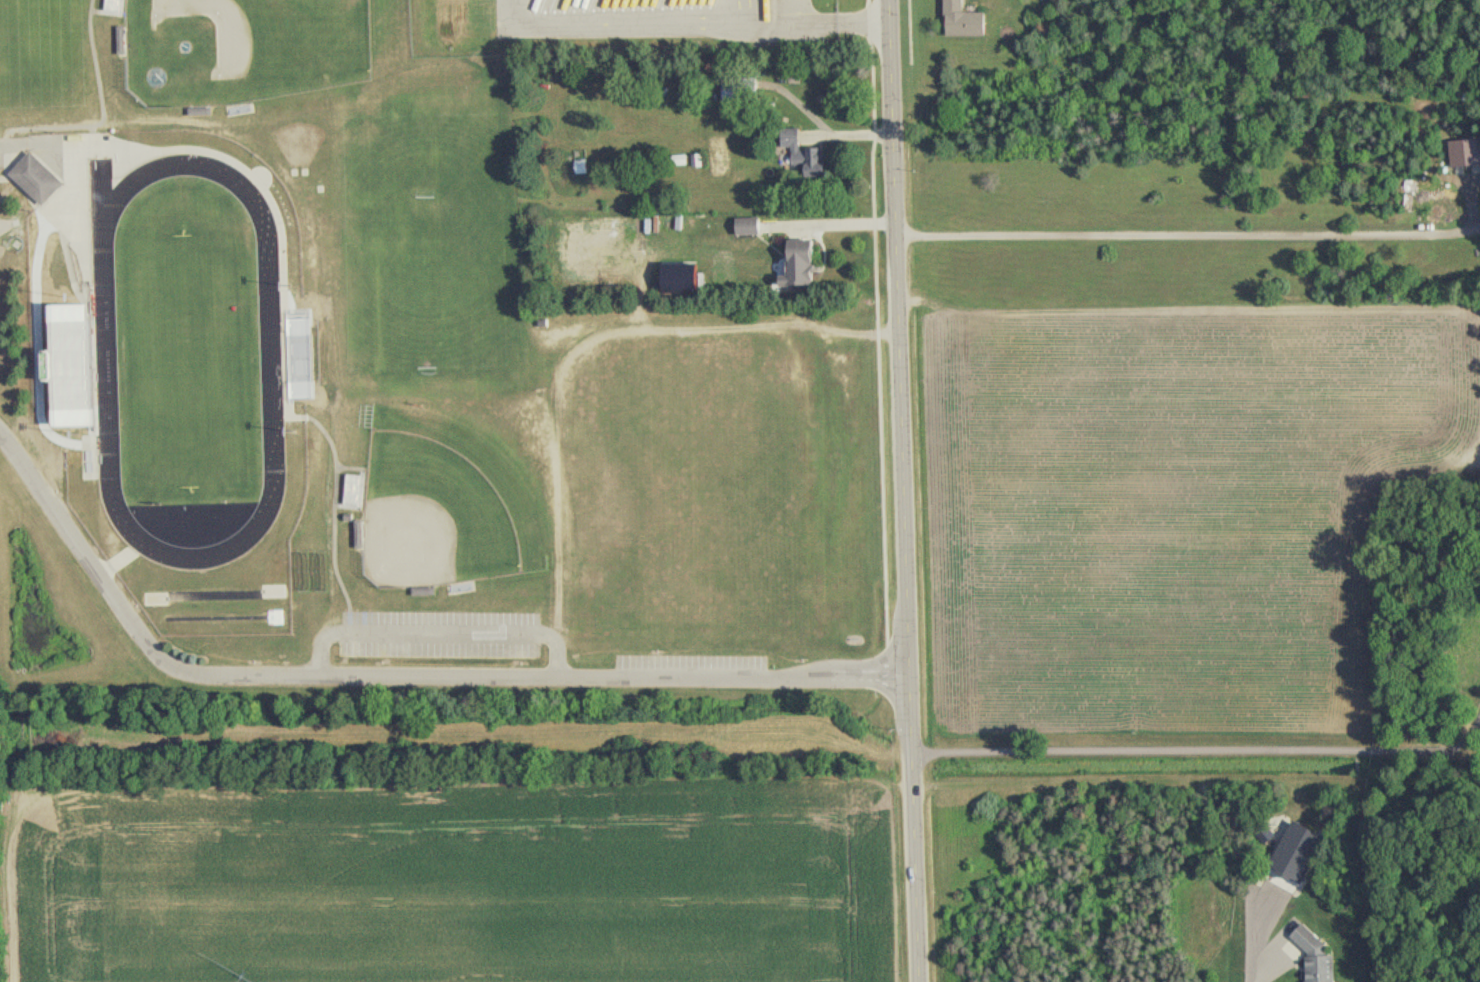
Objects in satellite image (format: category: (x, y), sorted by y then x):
building: (967, 18)
road: (815, 20)
road: (628, 22)
park: (253, 48)
building: (738, 90)
building: (806, 151)
building: (678, 160)
building: (580, 167)
building: (34, 178)
road: (834, 223)
building: (754, 226)
road: (1188, 234)
building: (804, 263)
park: (197, 359)
road: (904, 491)
park: (452, 506)
road: (440, 636)
road: (394, 675)
road: (1204, 751)
building: (1314, 957)
road: (1273, 969)

